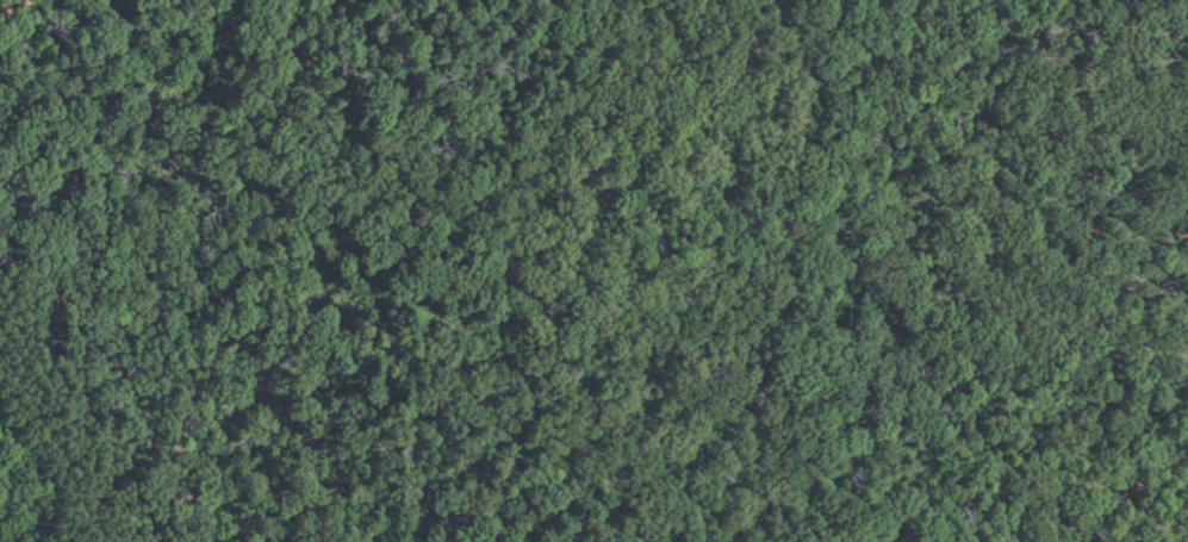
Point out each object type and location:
road: (19, 8)

